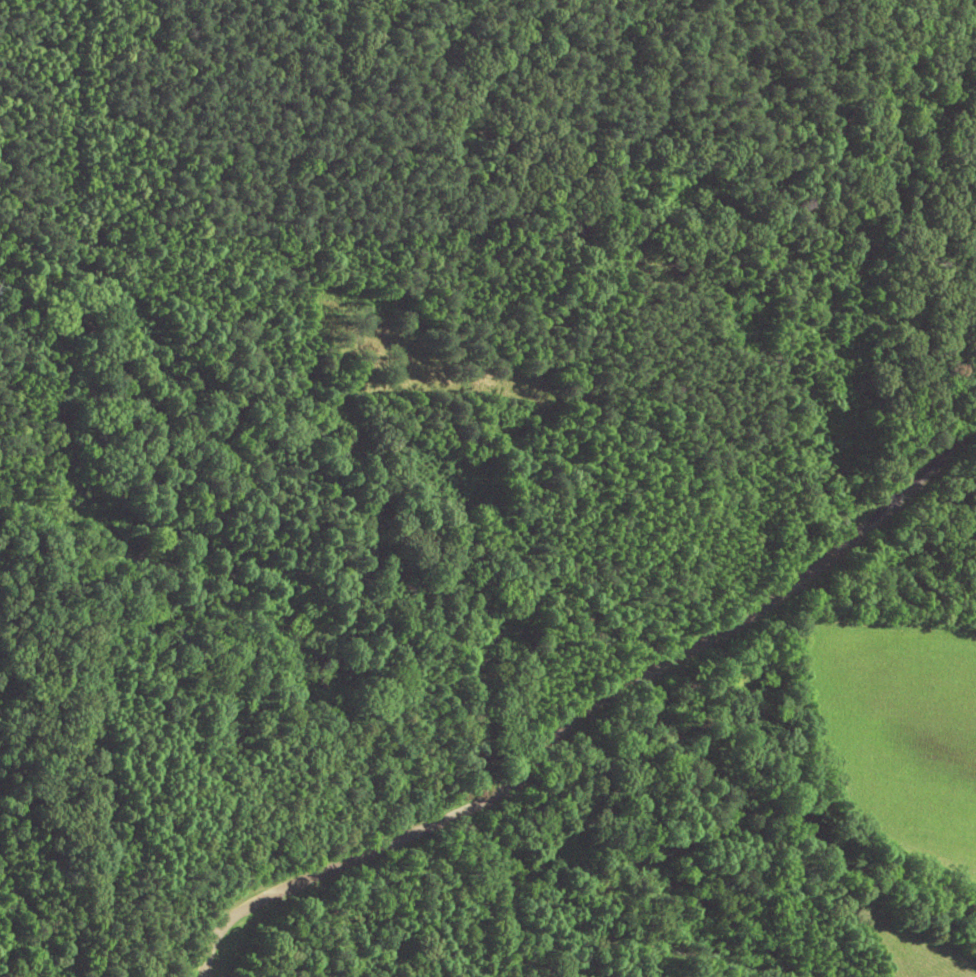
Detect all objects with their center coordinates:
road: (846, 612)
road: (575, 661)

